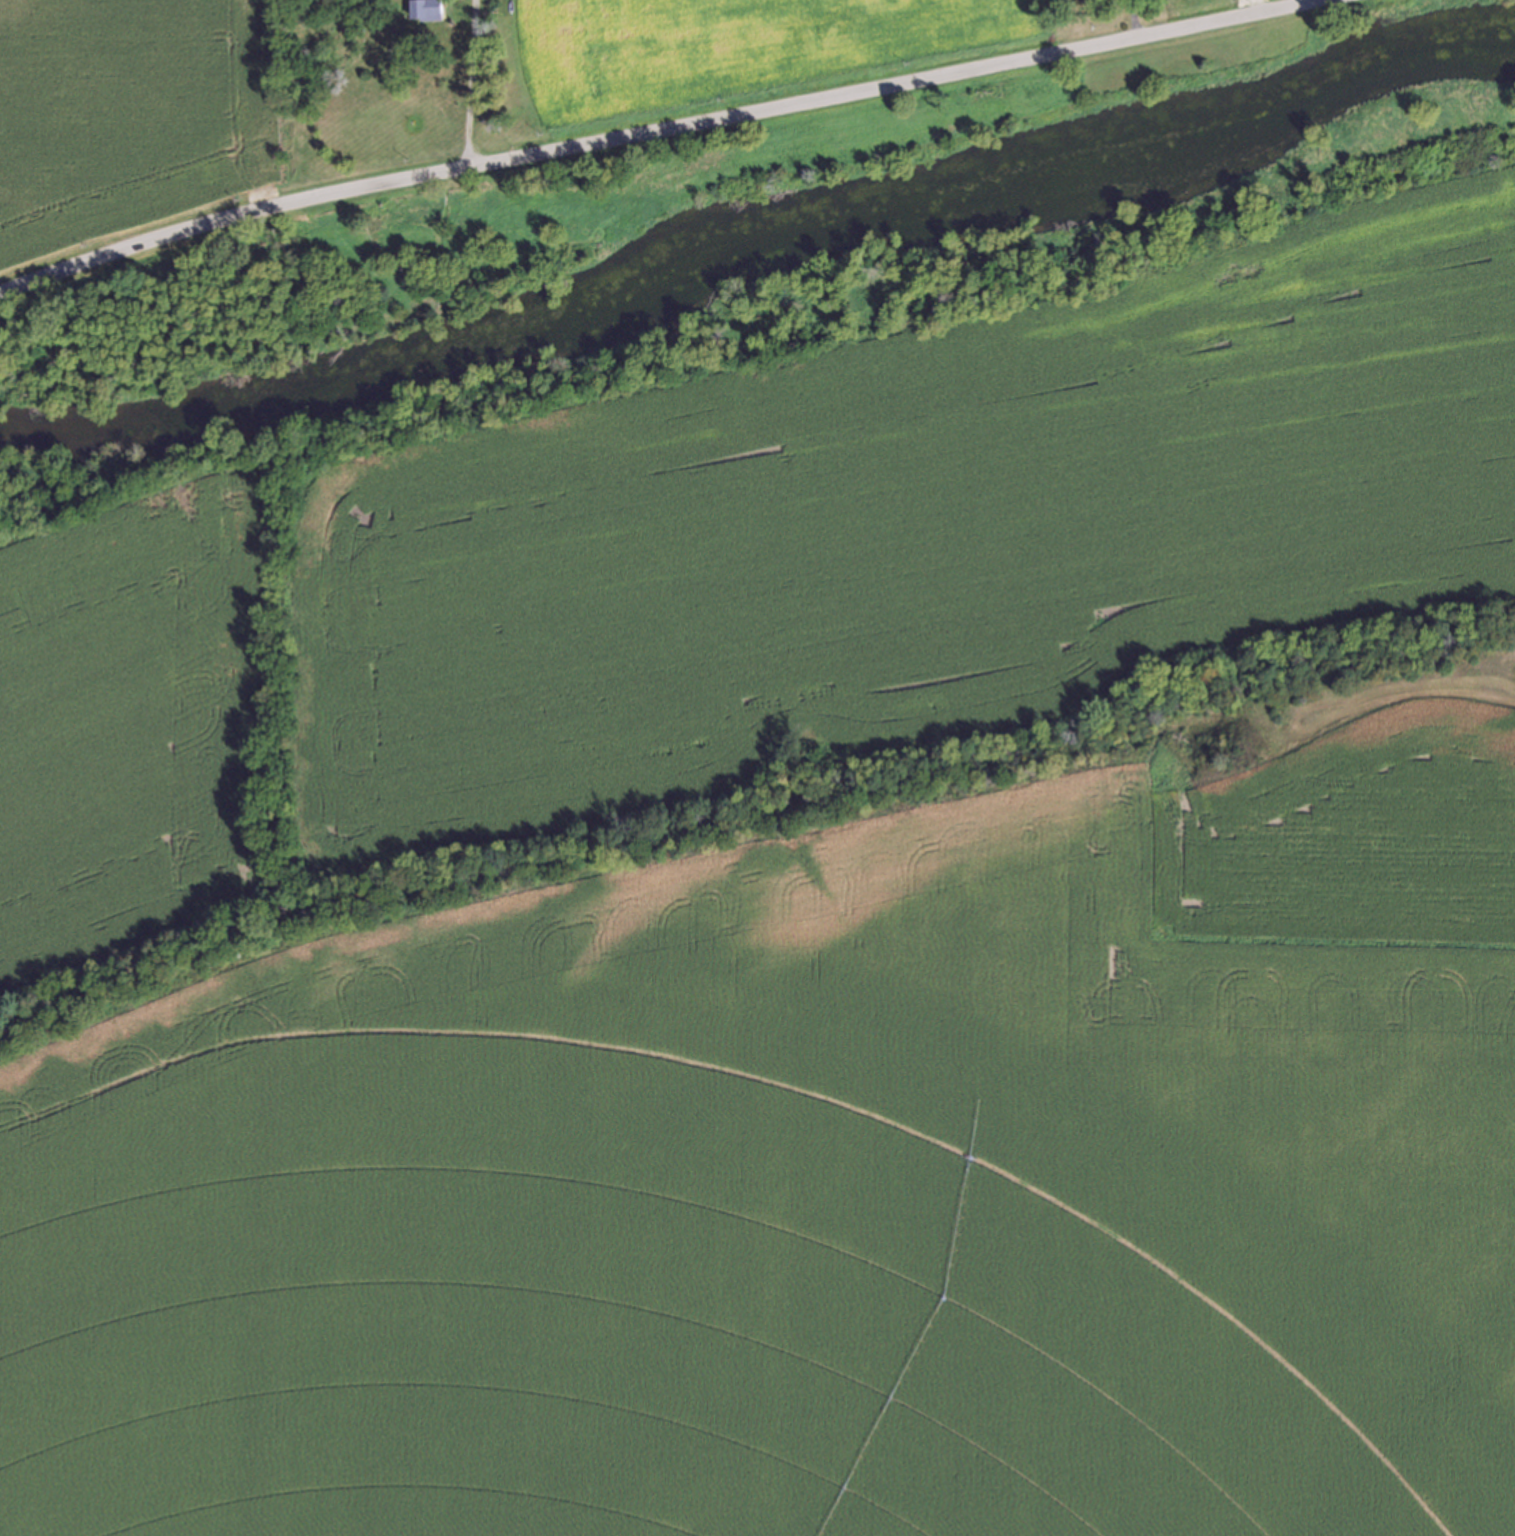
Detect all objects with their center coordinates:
building: (429, 9)
road: (1135, 21)
road: (471, 86)
road: (677, 133)
river: (756, 243)

